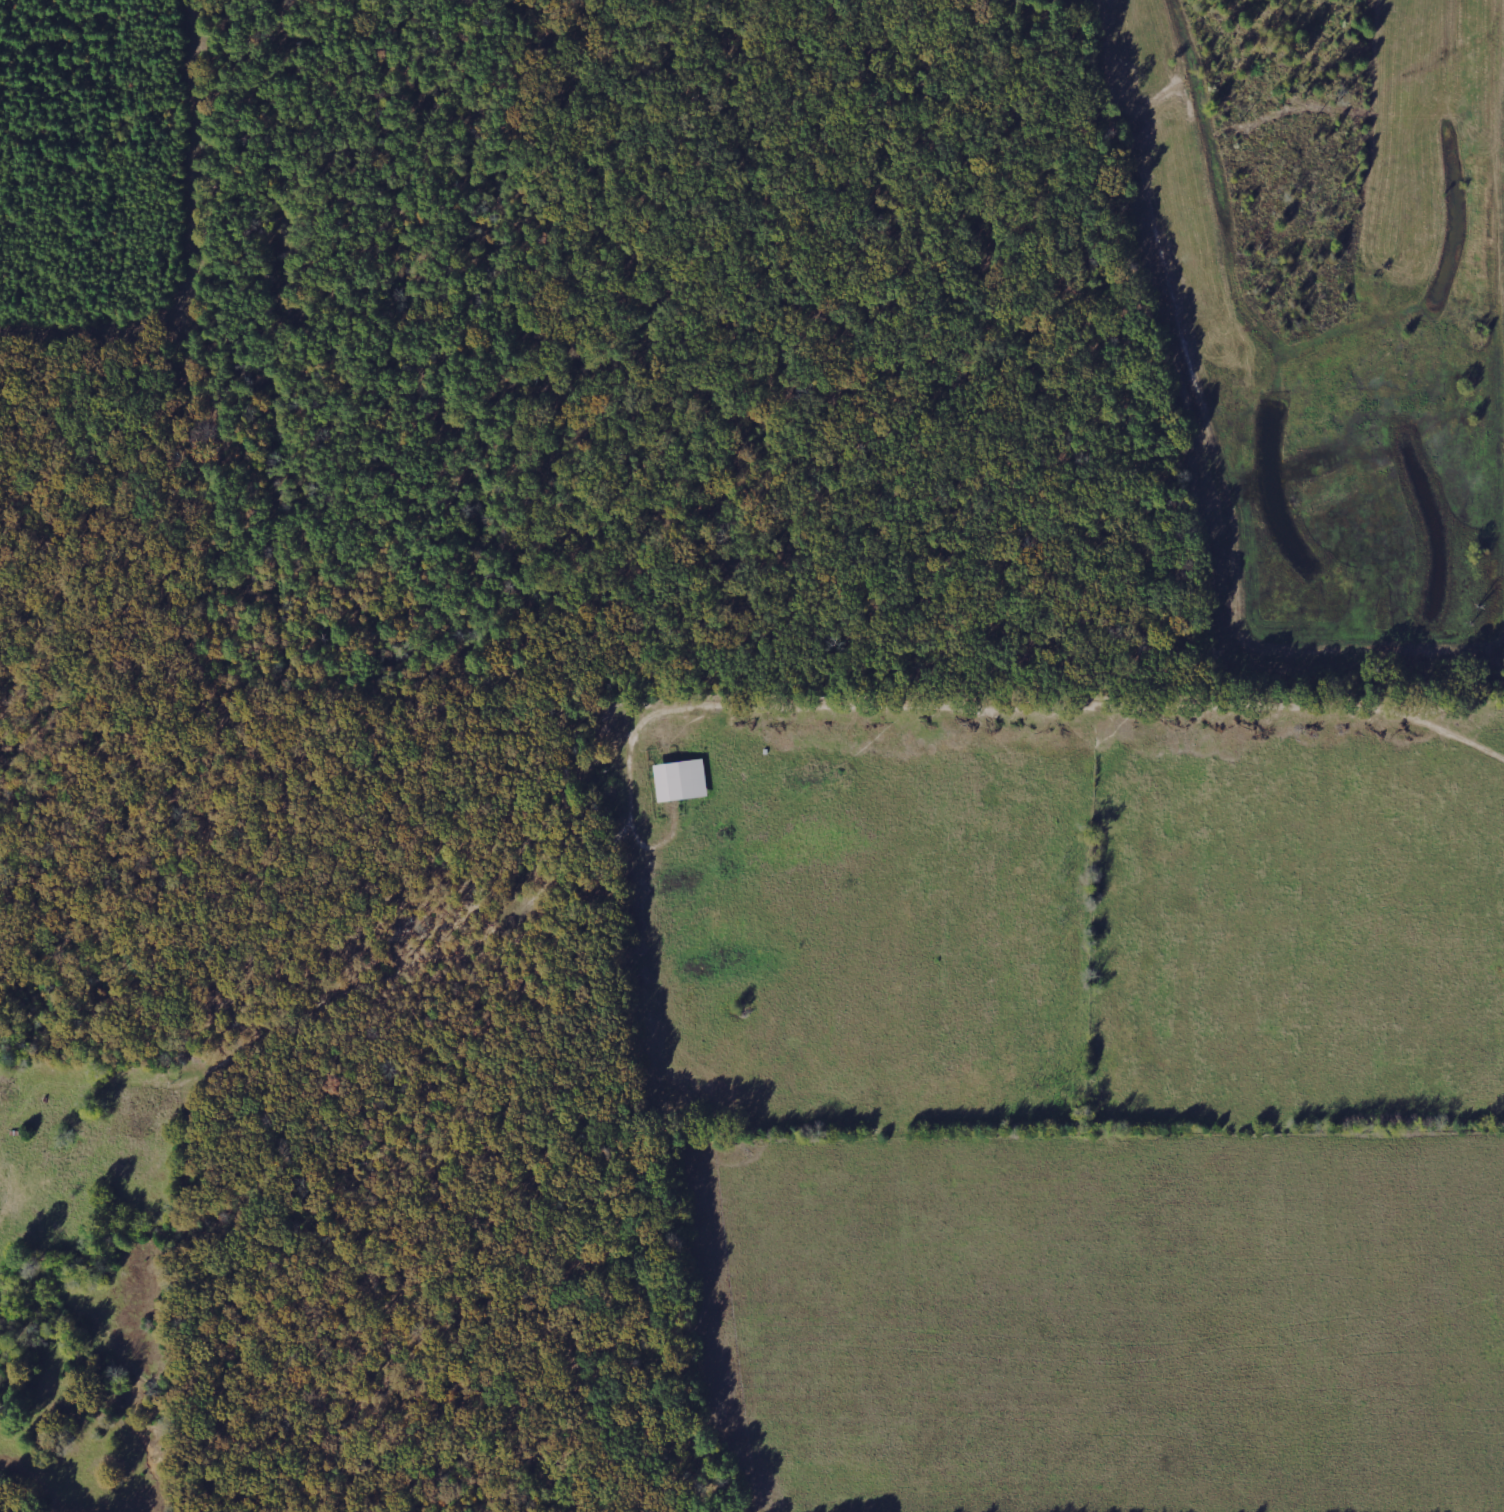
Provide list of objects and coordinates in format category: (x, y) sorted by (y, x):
road: (1029, 669)
building: (683, 782)

